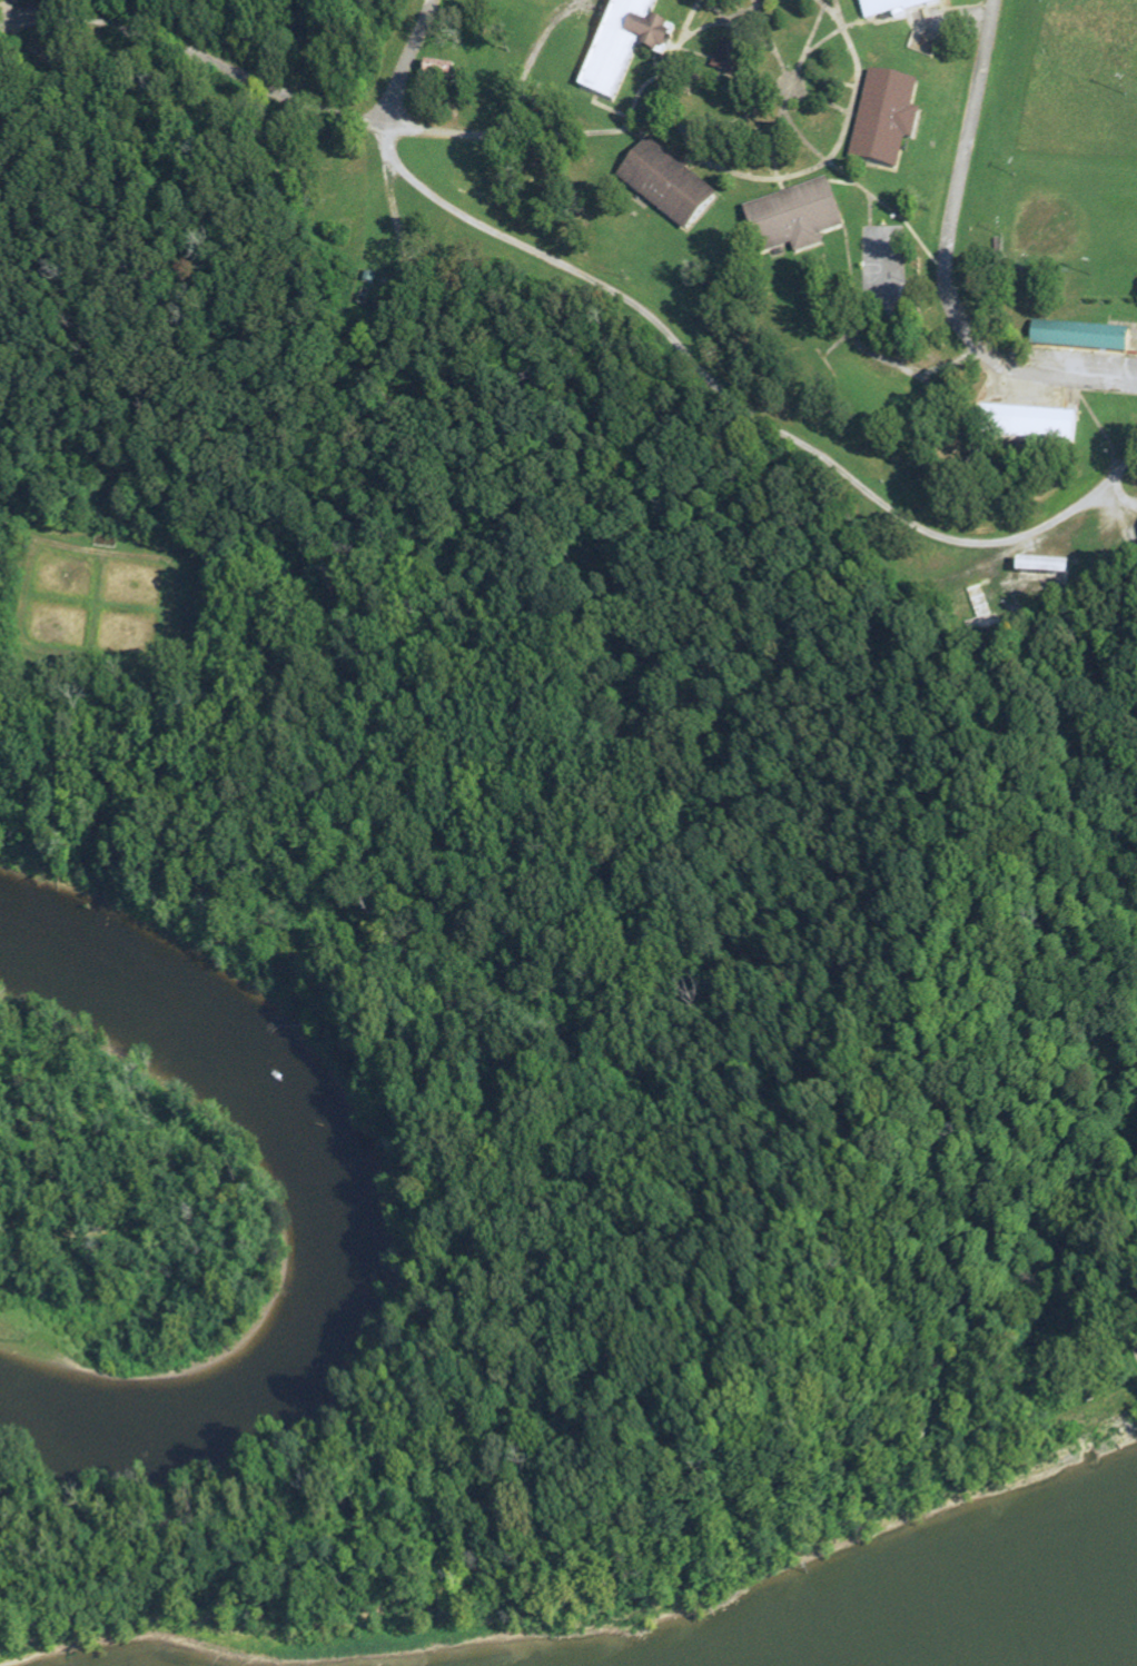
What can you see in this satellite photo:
building: (898, 7)
road: (840, 16)
road: (725, 20)
road: (951, 23)
road: (751, 31)
road: (738, 33)
road: (833, 36)
building: (625, 46)
road: (673, 46)
road: (536, 50)
building: (728, 58)
road: (666, 71)
building: (439, 75)
road: (718, 80)
road: (788, 82)
road: (728, 90)
road: (288, 97)
road: (779, 100)
building: (887, 122)
road: (605, 131)
road: (773, 141)
road: (812, 169)
building: (668, 185)
road: (863, 188)
road: (396, 216)
building: (794, 219)
road: (870, 226)
road: (848, 235)
road: (946, 260)
building: (1049, 281)
road: (883, 301)
building: (1081, 337)
road: (689, 358)
road: (1005, 369)
building: (1030, 426)
road: (1103, 429)
road: (1120, 468)
road: (18, 526)
building: (1045, 573)
road: (154, 666)
river: (325, 1228)

